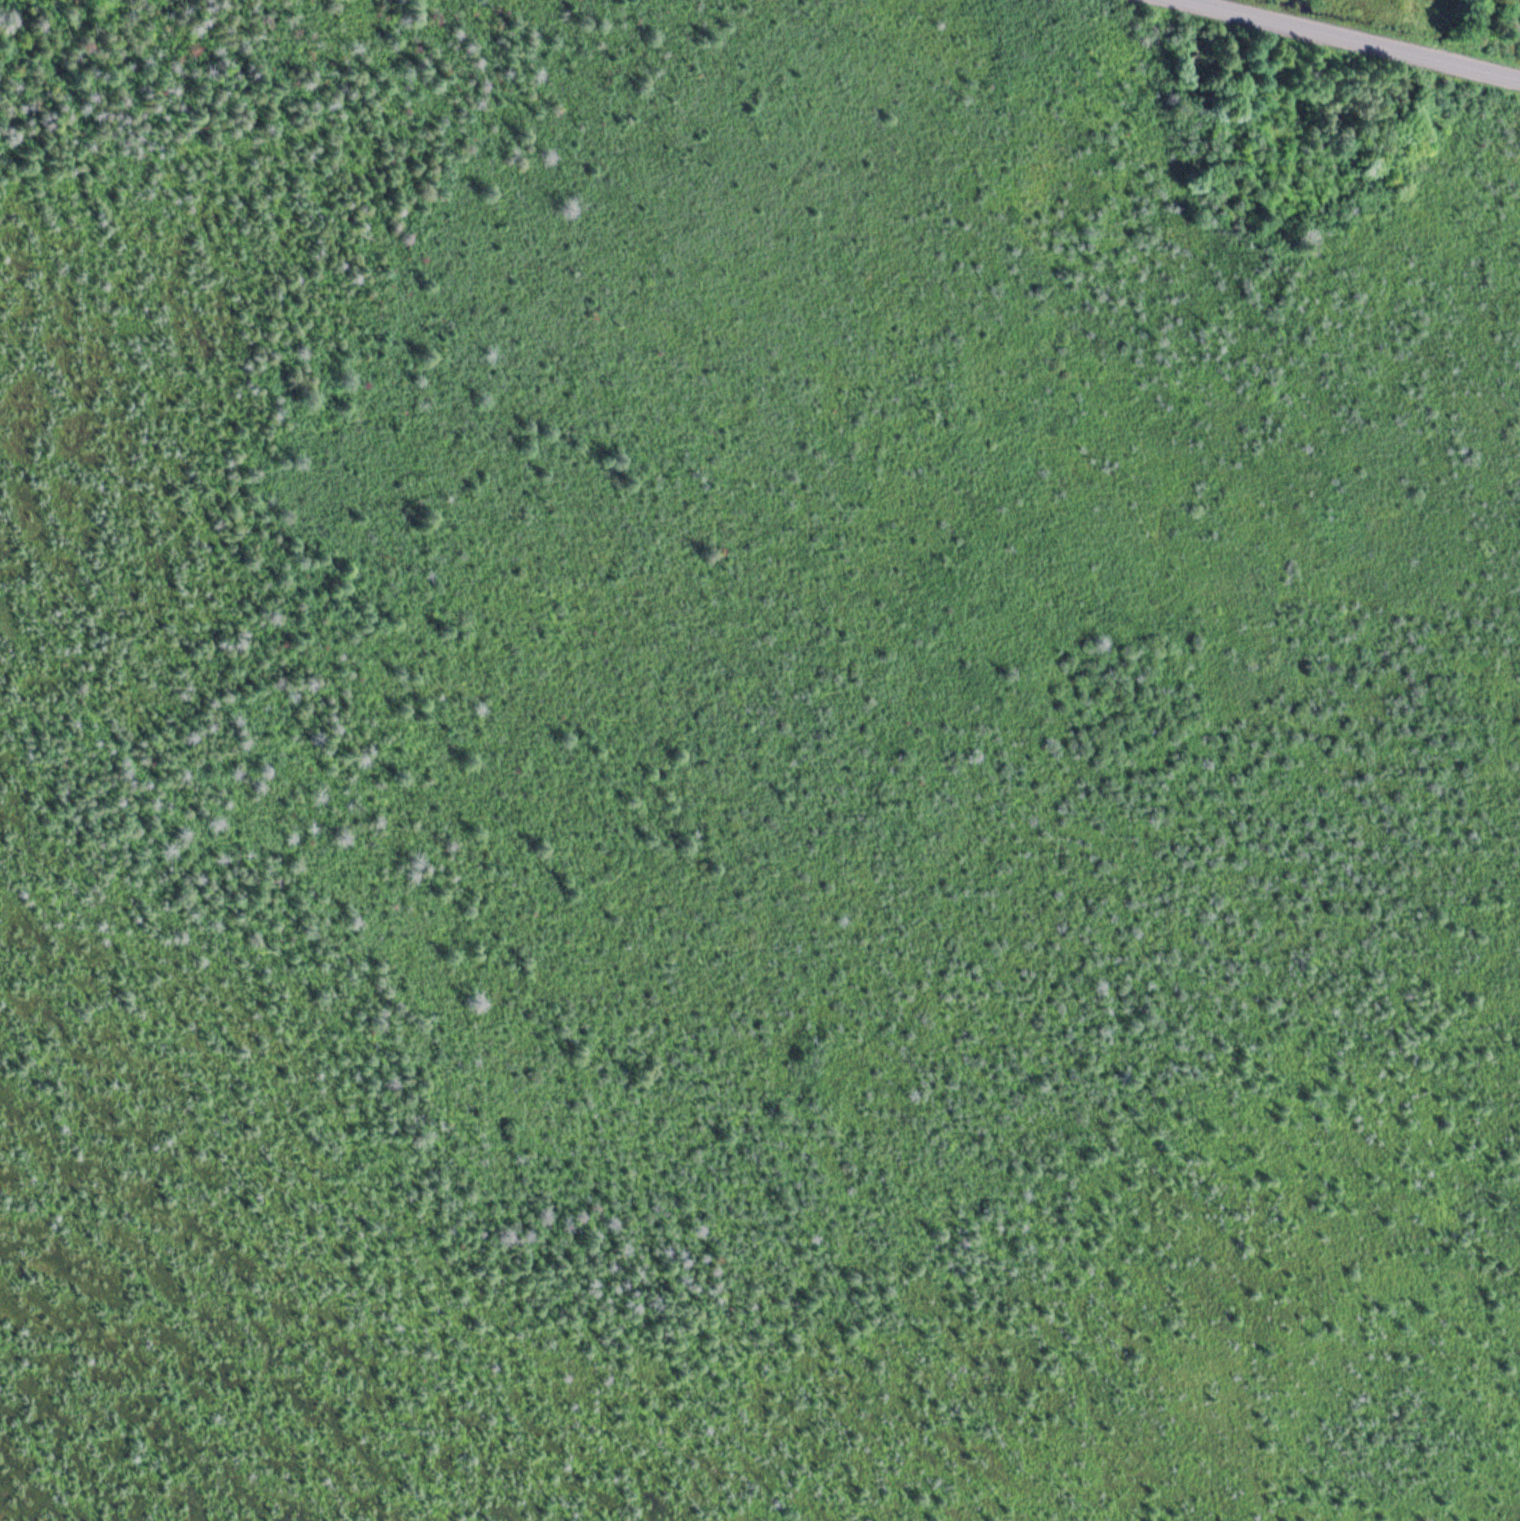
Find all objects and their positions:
road: (1370, 35)

